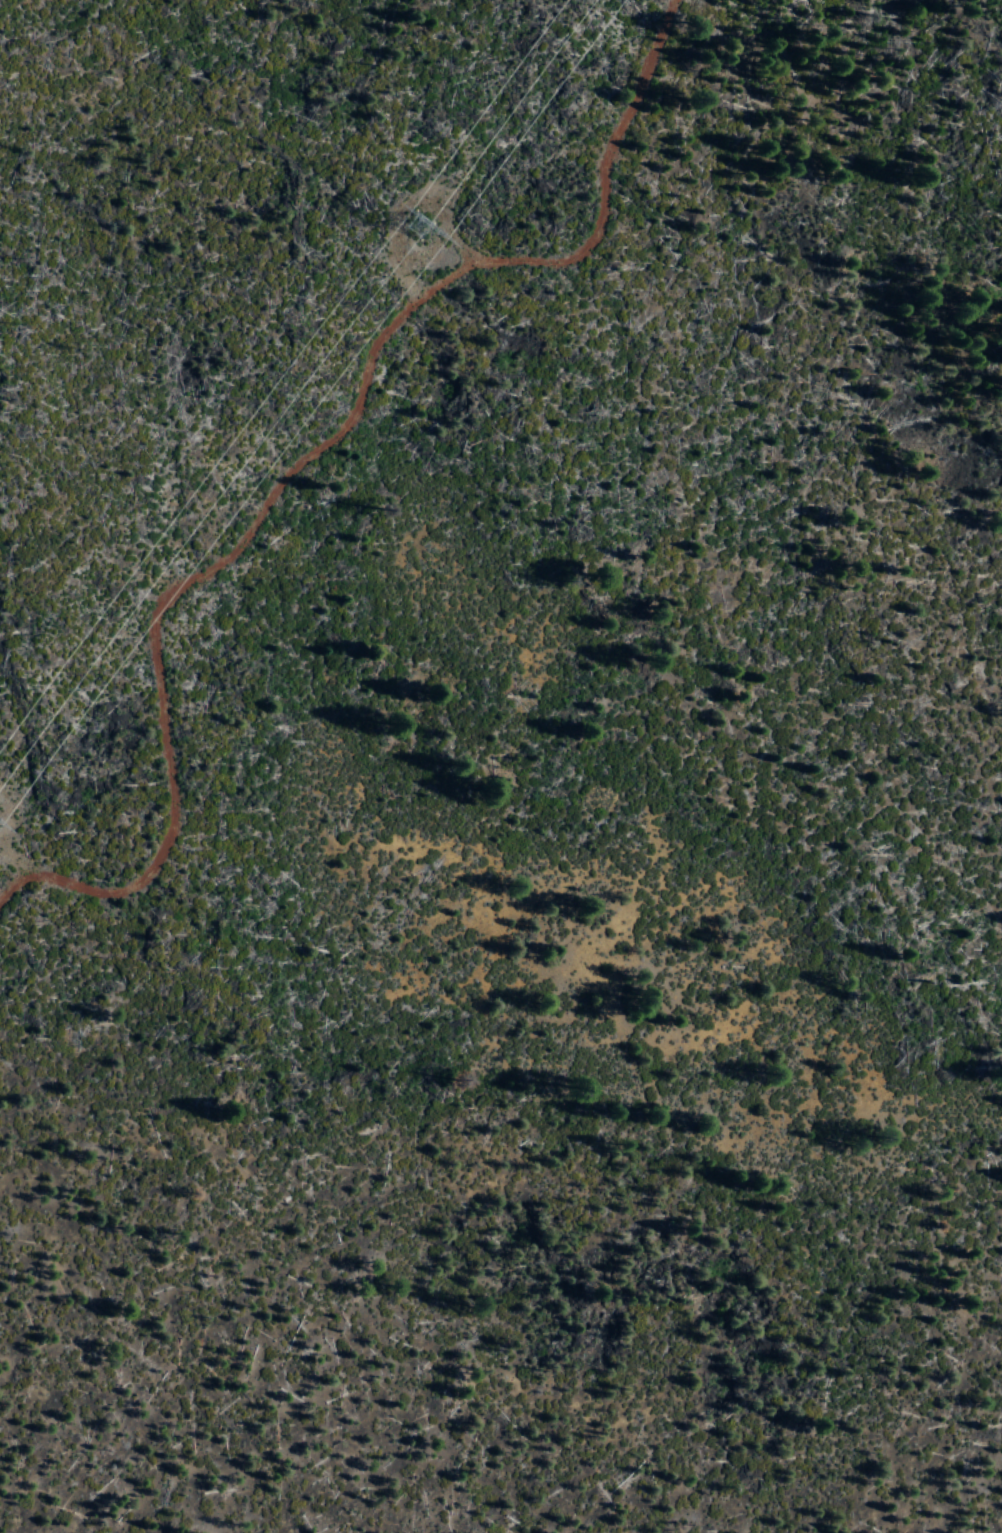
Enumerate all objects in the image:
power tower: (426, 214)

